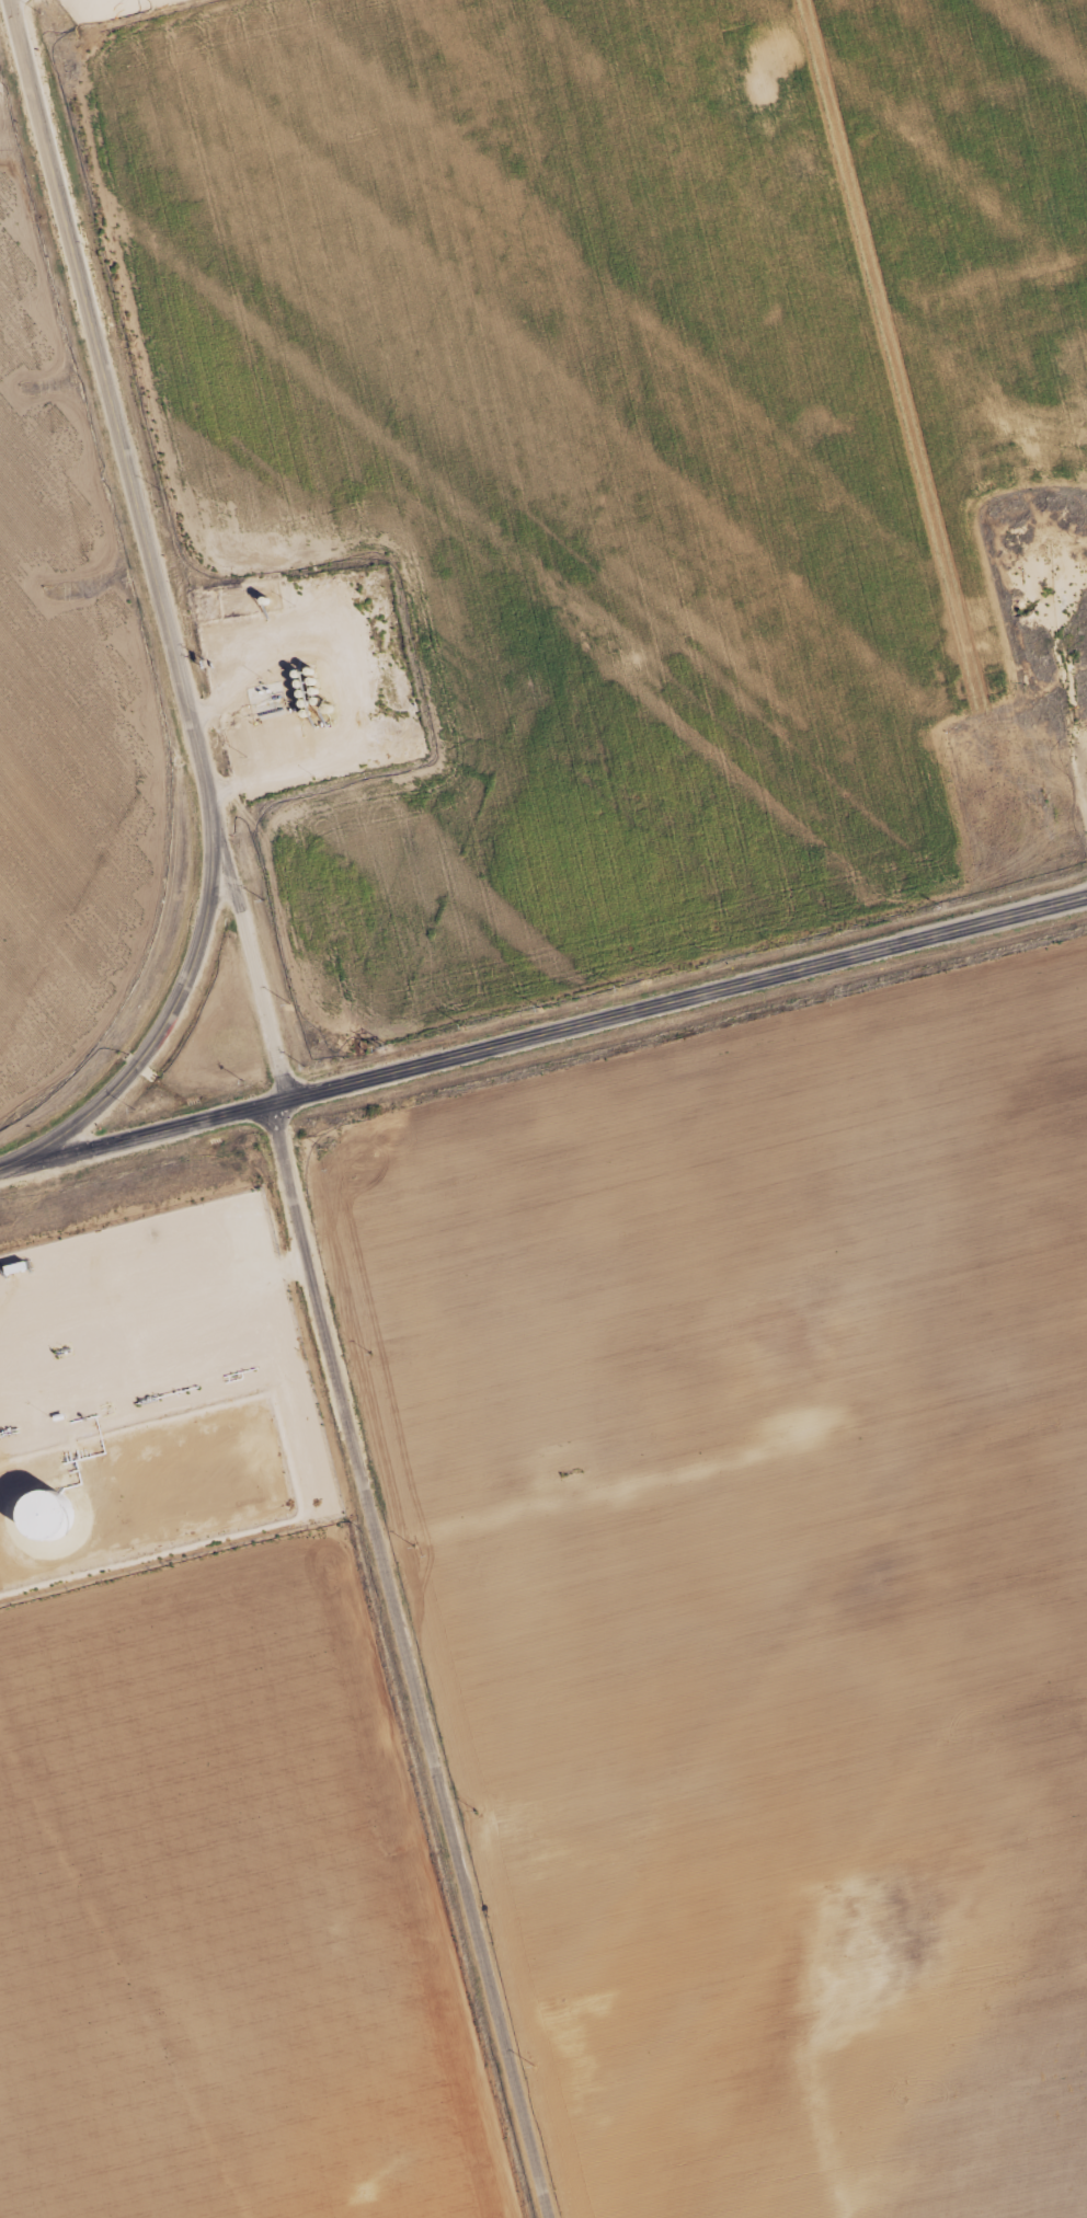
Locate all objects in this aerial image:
road: (163, 620)
road: (250, 961)
road: (543, 1033)
road: (405, 1660)

